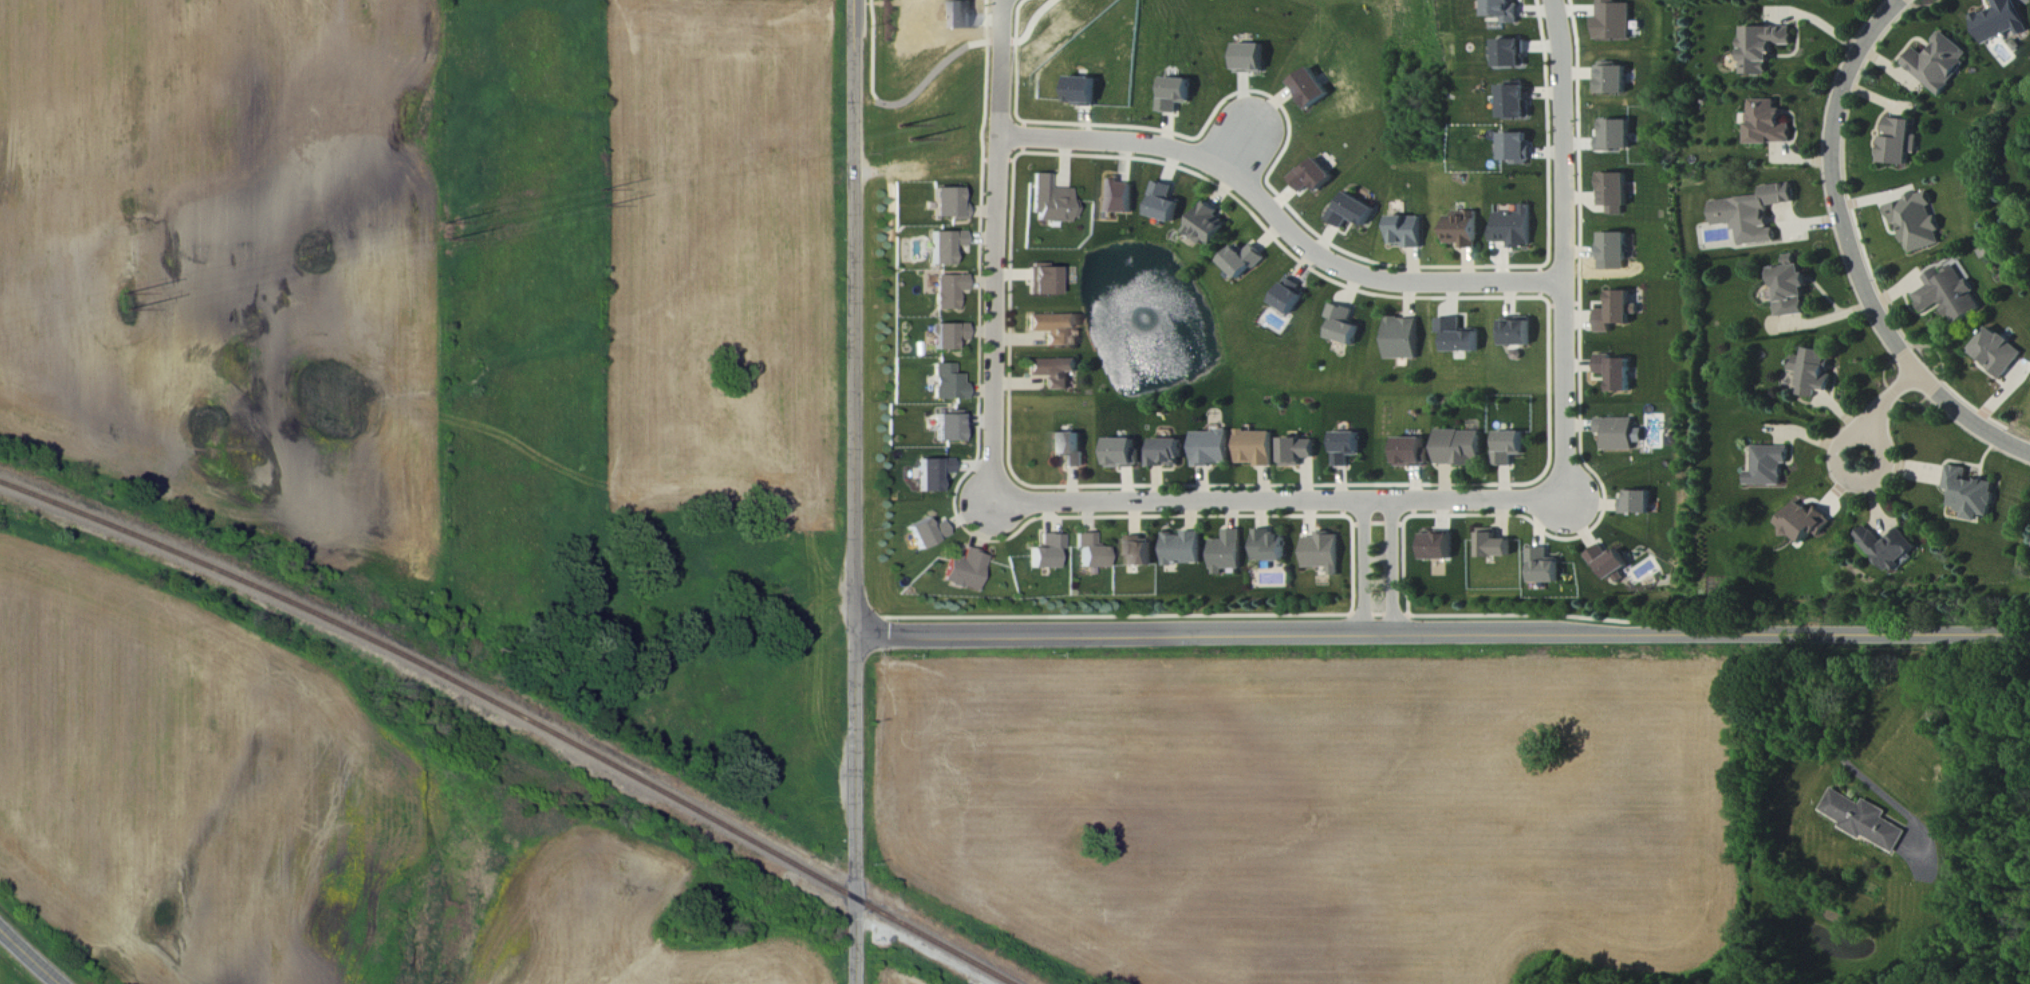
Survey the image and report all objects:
building: (1509, 11)
building: (2002, 22)
building: (1614, 23)
building: (1764, 49)
building: (1515, 55)
building: (1250, 59)
building: (1940, 64)
building: (1614, 80)
building: (1312, 91)
building: (1084, 92)
building: (1177, 96)
building: (1516, 102)
building: (1770, 125)
power tower: (900, 126)
building: (1618, 137)
power tower: (910, 141)
building: (1899, 143)
building: (1516, 149)
road: (1237, 152)
building: (1314, 177)
power tower: (602, 190)
building: (1615, 193)
building: (1116, 197)
building: (1046, 201)
building: (1166, 202)
building: (946, 203)
power tower: (606, 207)
building: (1353, 211)
building: (1755, 213)
road: (1278, 218)
building: (1917, 221)
power tower: (447, 224)
building: (1209, 225)
building: (1514, 228)
building: (1463, 230)
building: (1408, 231)
power tower: (452, 240)
building: (942, 245)
building: (1614, 248)
road: (1564, 249)
road: (992, 250)
road: (1853, 253)
building: (1245, 260)
building: (1040, 279)
building: (1792, 288)
building: (946, 291)
power tower: (126, 295)
building: (1292, 295)
building: (1951, 295)
power tower: (129, 311)
building: (1616, 312)
building: (1345, 325)
building: (1053, 327)
building: (1518, 331)
building: (945, 336)
building: (1460, 336)
building: (1404, 338)
building: (1998, 352)
building: (1053, 372)
building: (1616, 372)
building: (1815, 372)
building: (945, 383)
road: (1881, 409)
building: (946, 425)
building: (1620, 433)
building: (1348, 447)
building: (1459, 447)
building: (1211, 448)
building: (1256, 448)
building: (1509, 448)
building: (1069, 449)
building: (1298, 451)
building: (1412, 452)
building: (1121, 453)
building: (1165, 453)
building: (1771, 466)
building: (931, 473)
road: (852, 492)
building: (1972, 494)
road: (1279, 501)
building: (1637, 502)
building: (1805, 522)
building: (925, 533)
building: (1494, 545)
building: (1268, 546)
building: (1439, 547)
building: (1890, 548)
building: (1181, 549)
building: (1046, 551)
building: (1091, 551)
building: (1137, 551)
building: (1323, 552)
building: (1225, 553)
building: (1609, 561)
building: (1544, 566)
road: (1394, 567)
road: (1366, 568)
building: (964, 570)
road: (1441, 632)
railway: (517, 712)
road: (1838, 752)
building: (1867, 821)
road: (31, 953)

